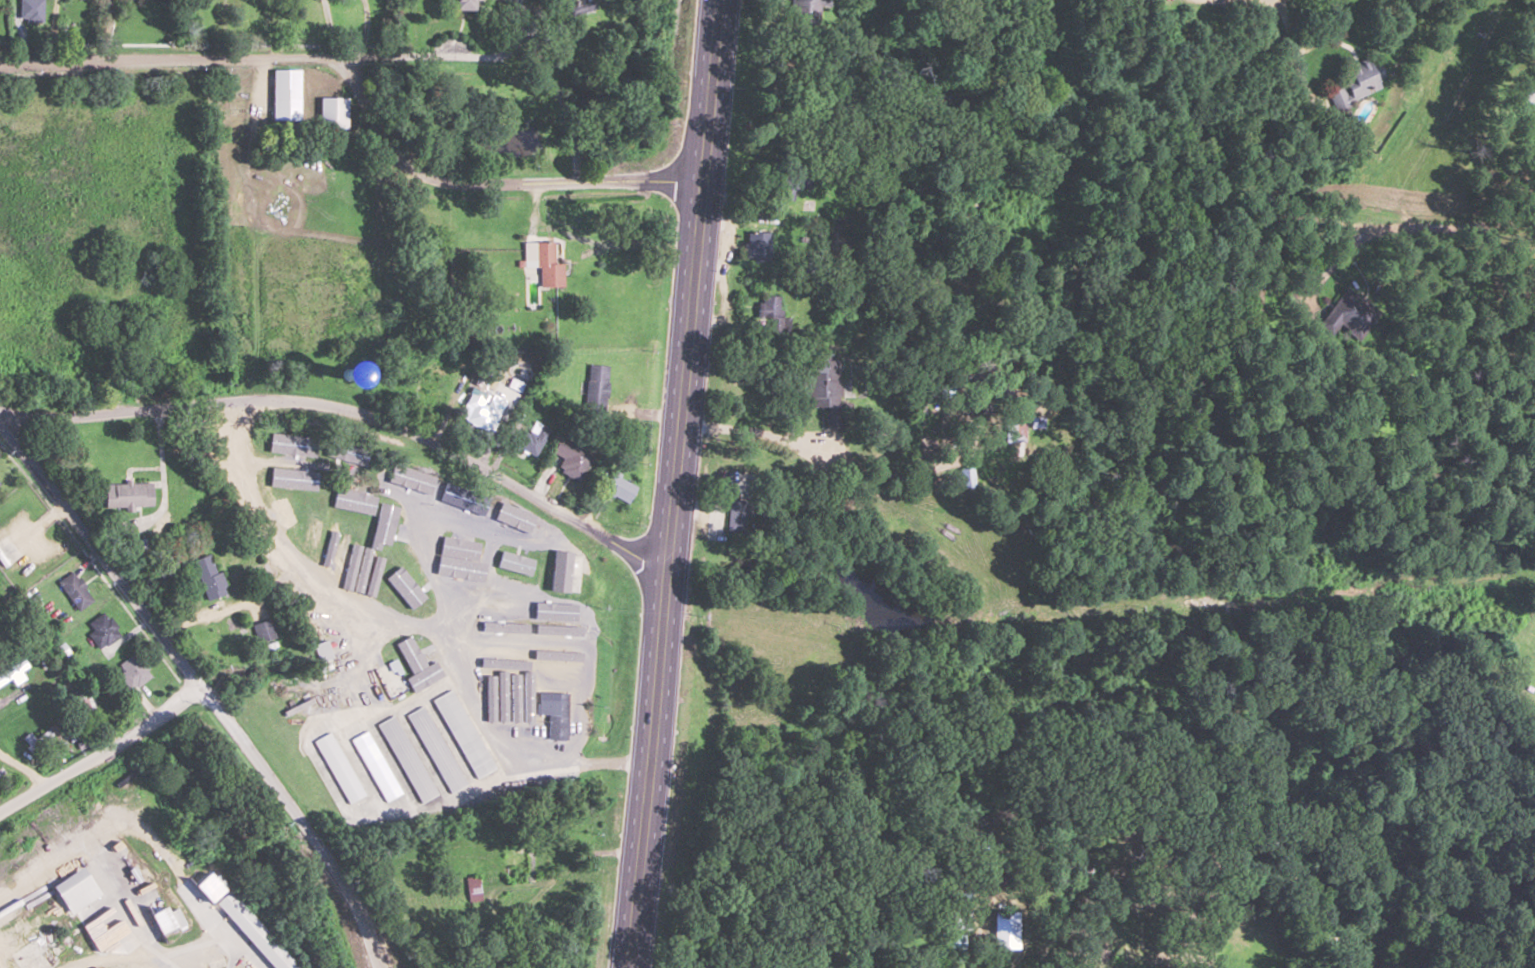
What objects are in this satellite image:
building: (463, 5)
building: (580, 6)
road: (283, 56)
building: (1356, 83)
building: (285, 93)
building: (333, 113)
building: (792, 181)
road: (486, 182)
building: (542, 263)
building: (767, 309)
building: (1348, 314)
building: (342, 378)
building: (433, 387)
building: (825, 388)
road: (351, 412)
building: (481, 412)
building: (281, 417)
building: (351, 431)
building: (532, 438)
building: (284, 444)
building: (341, 453)
building: (571, 458)
building: (413, 477)
building: (967, 477)
building: (295, 481)
road: (672, 484)
building: (620, 487)
building: (126, 494)
building: (352, 498)
building: (461, 498)
building: (273, 504)
building: (504, 513)
building: (737, 514)
building: (385, 524)
building: (313, 526)
building: (338, 526)
building: (357, 531)
building: (553, 539)
building: (460, 542)
building: (268, 551)
road: (292, 555)
building: (501, 557)
building: (208, 578)
building: (394, 586)
building: (465, 588)
building: (75, 590)
building: (302, 594)
building: (102, 629)
building: (263, 631)
building: (500, 637)
building: (558, 665)
building: (424, 666)
building: (133, 670)
building: (507, 686)
road: (200, 688)
building: (321, 709)
building: (556, 715)
building: (464, 734)
building: (45, 737)
road: (101, 753)
building: (423, 757)
building: (353, 761)
building: (1, 773)
building: (368, 807)
building: (520, 866)
building: (988, 879)
building: (76, 890)
building: (165, 919)
building: (952, 921)
building: (253, 931)
building: (949, 942)

